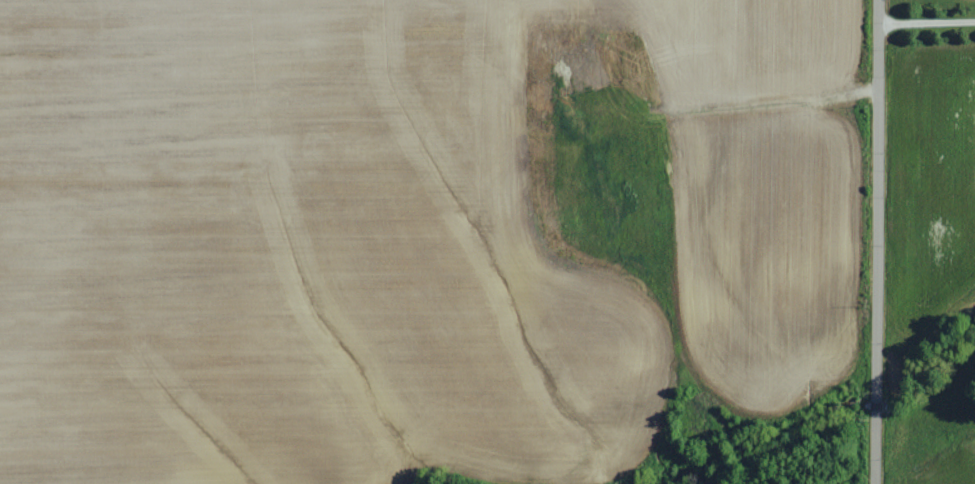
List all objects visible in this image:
road: (882, 242)

